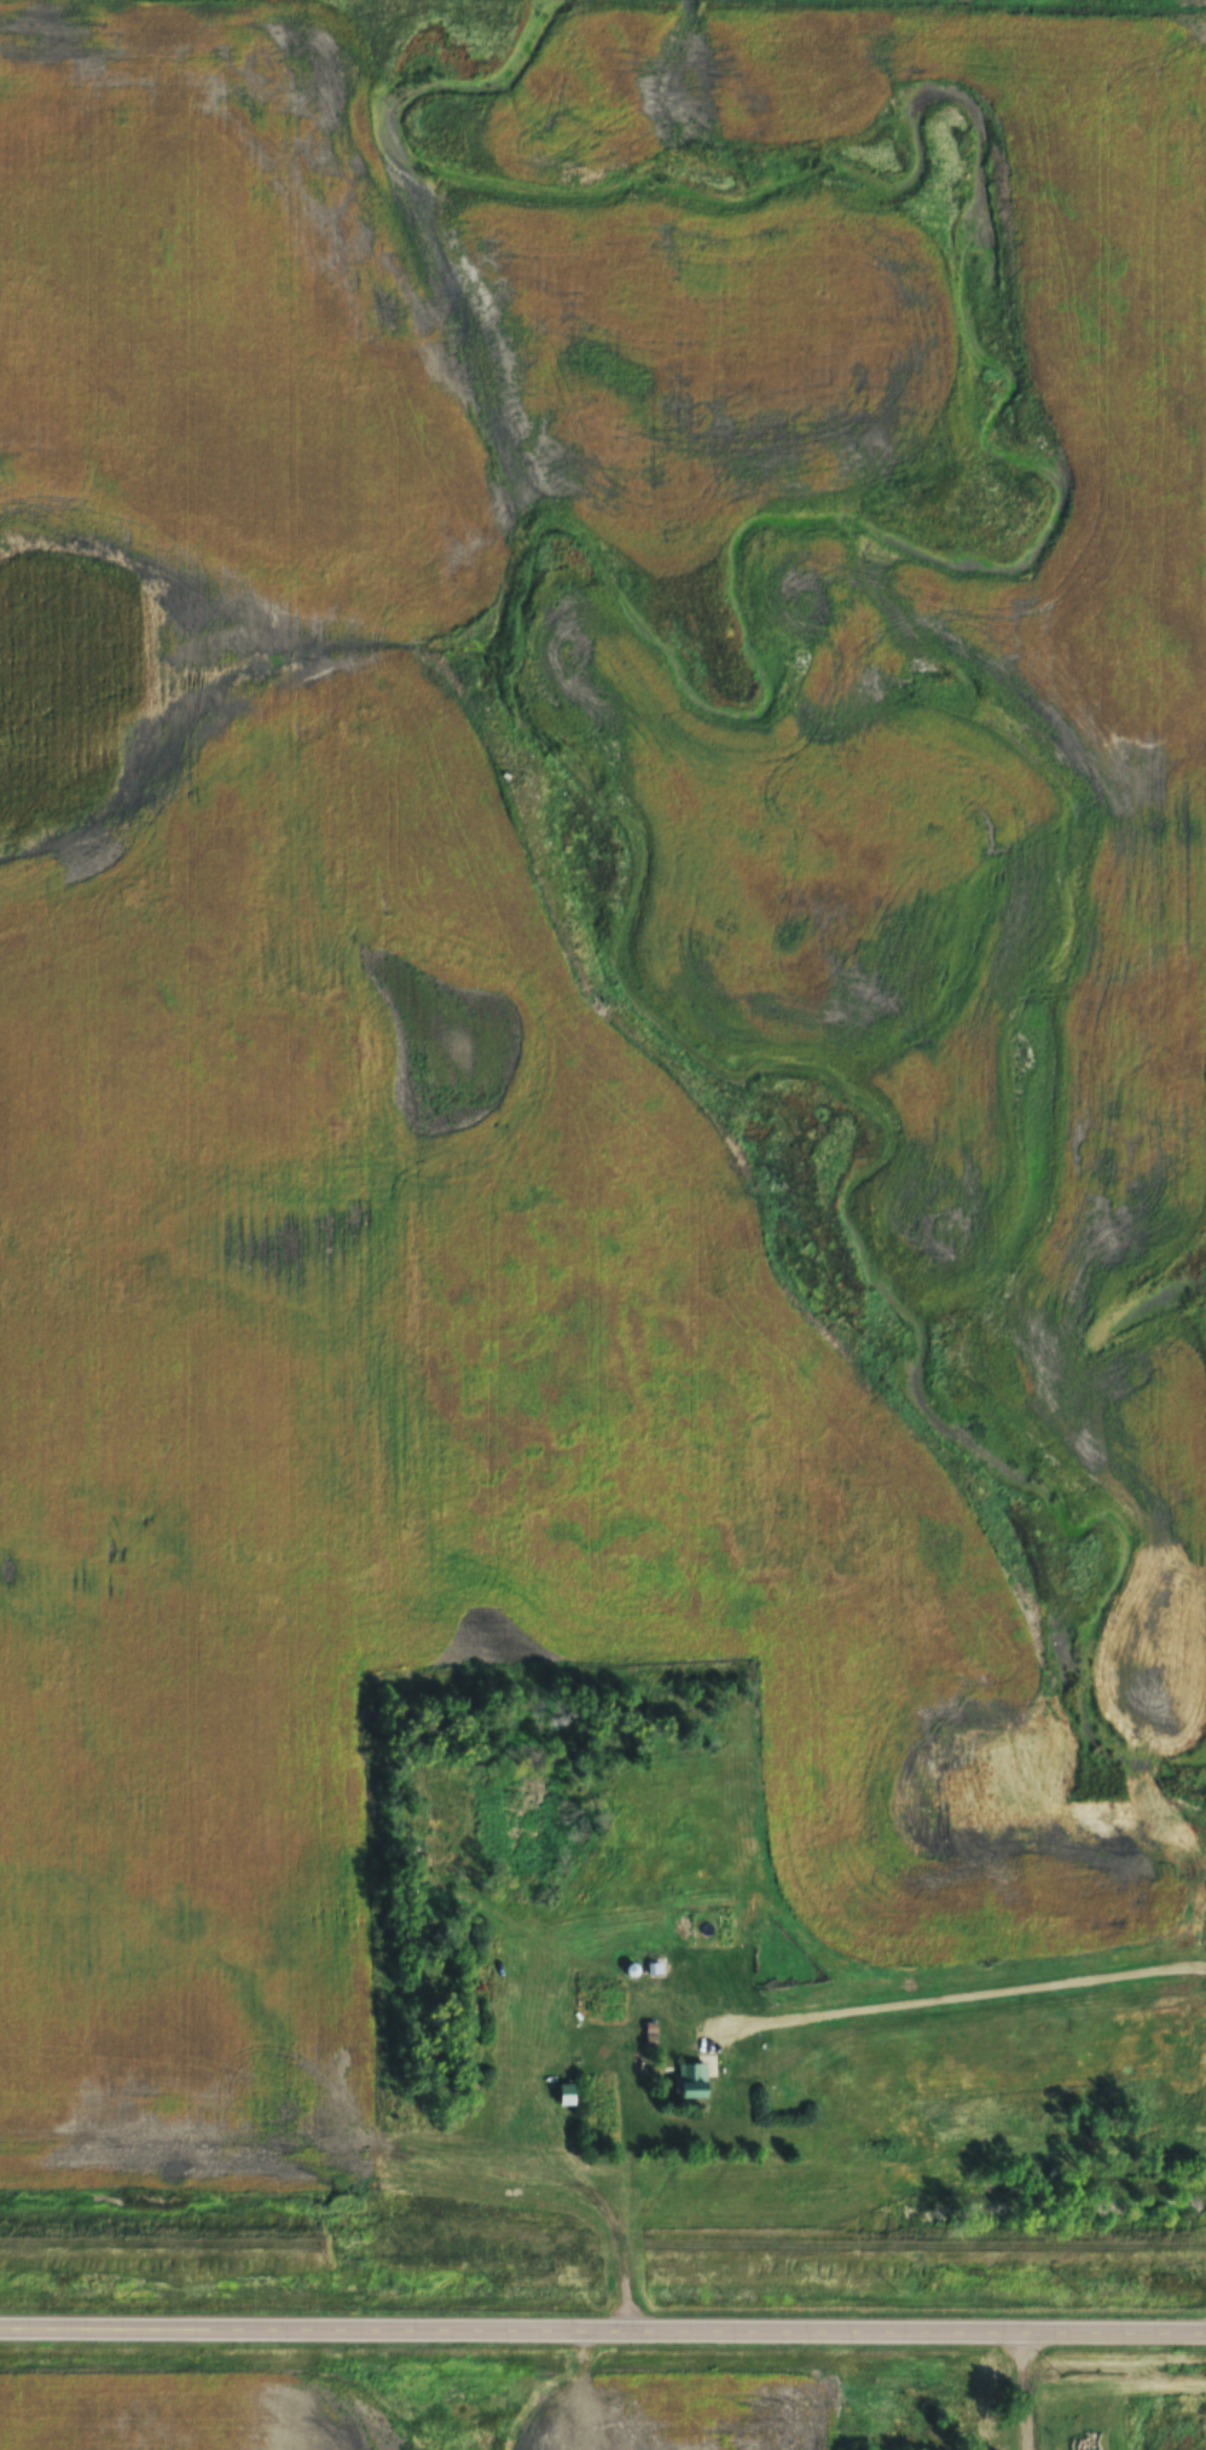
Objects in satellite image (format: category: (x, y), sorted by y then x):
road: (958, 1995)
building: (690, 2081)
road: (603, 2329)

